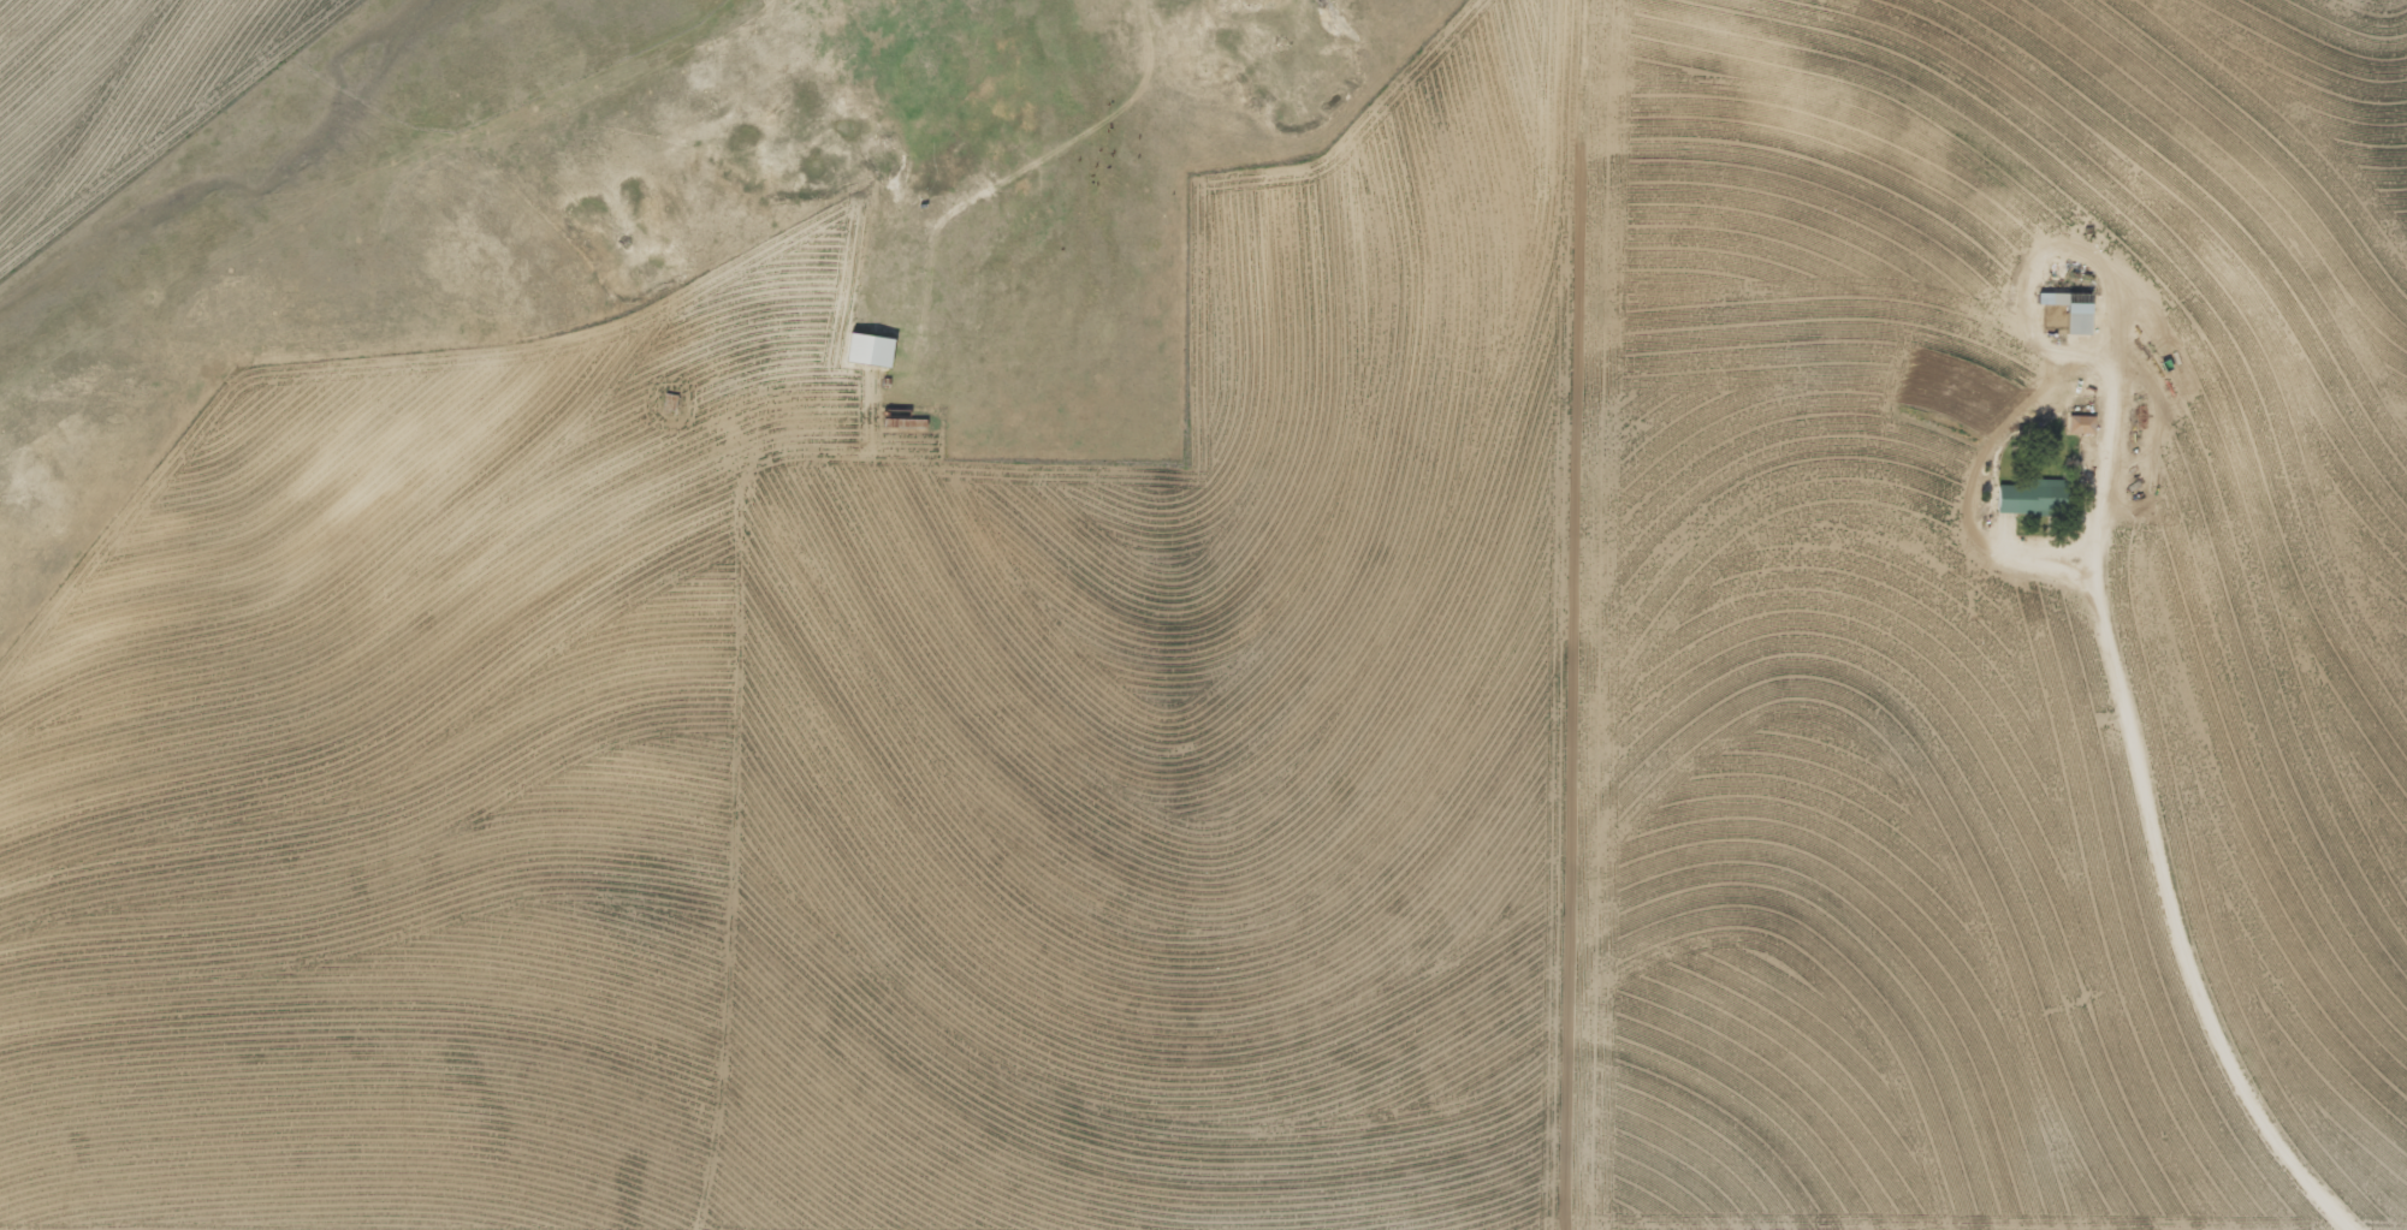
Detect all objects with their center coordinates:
building: (2085, 424)
building: (2037, 498)
road: (773, 524)
road: (2174, 885)

